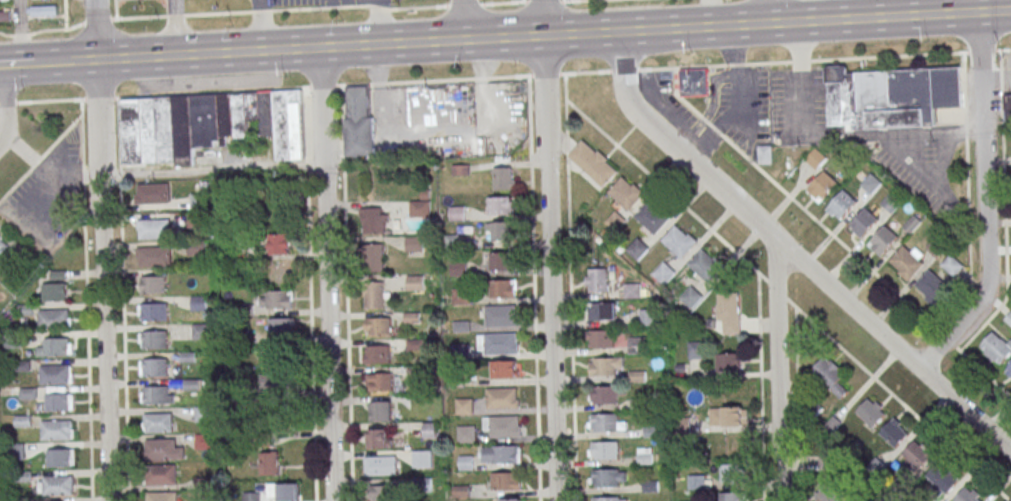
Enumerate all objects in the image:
building: (4, 0)
road: (561, 0)
road: (571, 0)
parking lot: (299, 1)
road: (522, 1)
road: (543, 1)
road: (457, 5)
road: (378, 7)
road: (320, 8)
building: (44, 10)
road: (261, 11)
road: (767, 12)
road: (217, 13)
building: (5, 15)
road: (175, 16)
road: (139, 17)
road: (96, 20)
road: (461, 20)
road: (381, 21)
road: (262, 25)
road: (177, 27)
road: (55, 29)
road: (20, 31)
road: (5, 35)
road: (20, 35)
road: (547, 36)
road: (61, 62)
road: (20, 64)
street lamp: (460, 68)
road: (505, 75)
street lamp: (284, 76)
road: (800, 78)
road: (996, 79)
building: (694, 82)
street lamp: (23, 90)
building: (890, 97)
road: (732, 100)
road: (5, 103)
building: (1008, 105)
road: (2, 118)
building: (359, 121)
building: (209, 124)
road: (435, 133)
road: (894, 137)
road: (45, 151)
building: (765, 154)
building: (816, 158)
building: (593, 162)
building: (461, 169)
road: (212, 170)
building: (503, 178)
building: (821, 186)
building: (372, 187)
parking lot: (22, 188)
building: (153, 193)
building: (626, 193)
road: (985, 197)
building: (196, 202)
building: (891, 202)
building: (421, 205)
building: (841, 205)
building: (501, 206)
building: (457, 213)
building: (652, 216)
building: (373, 221)
building: (863, 222)
building: (155, 228)
building: (503, 231)
road: (834, 237)
building: (882, 240)
building: (679, 241)
building: (281, 243)
building: (414, 243)
building: (2, 245)
building: (637, 248)
building: (196, 249)
road: (103, 250)
road: (549, 250)
road: (792, 254)
building: (156, 256)
building: (375, 257)
building: (500, 261)
building: (906, 261)
building: (705, 264)
building: (951, 265)
building: (459, 268)
building: (667, 270)
road: (326, 274)
building: (597, 280)
building: (415, 282)
building: (153, 285)
building: (931, 285)
building: (503, 288)
building: (633, 290)
building: (54, 292)
building: (375, 295)
building: (690, 297)
road: (124, 299)
building: (277, 299)
building: (198, 302)
road: (86, 306)
building: (602, 311)
building: (156, 313)
building: (728, 313)
building: (501, 315)
building: (648, 317)
building: (54, 319)
building: (379, 326)
building: (281, 327)
building: (600, 339)
building: (154, 340)
building: (498, 343)
building: (638, 345)
building: (56, 347)
building: (996, 347)
building: (696, 350)
building: (377, 353)
building: (728, 362)
building: (607, 366)
building: (155, 368)
building: (507, 369)
road: (776, 370)
building: (1008, 370)
building: (56, 374)
building: (830, 376)
building: (276, 382)
building: (381, 382)
building: (606, 394)
building: (156, 396)
building: (503, 398)
building: (59, 402)
building: (464, 406)
building: (382, 411)
building: (871, 412)
building: (203, 414)
building: (275, 415)
building: (728, 416)
building: (607, 422)
building: (157, 423)
building: (502, 426)
building: (57, 430)
building: (430, 430)
building: (894, 432)
building: (466, 433)
building: (381, 438)
building: (203, 441)
building: (161, 449)
building: (605, 450)
building: (917, 454)
building: (501, 455)
building: (645, 456)
building: (60, 457)
building: (421, 459)
building: (269, 463)
building: (820, 464)
building: (384, 465)
building: (732, 473)
building: (162, 475)
building: (608, 477)
building: (942, 478)
building: (506, 481)
building: (59, 485)
building: (281, 492)
building: (828, 492)
building: (382, 493)
building: (969, 495)
building: (252, 496)
building: (733, 496)
building: (162, 497)
building: (610, 498)
building: (509, 499)

